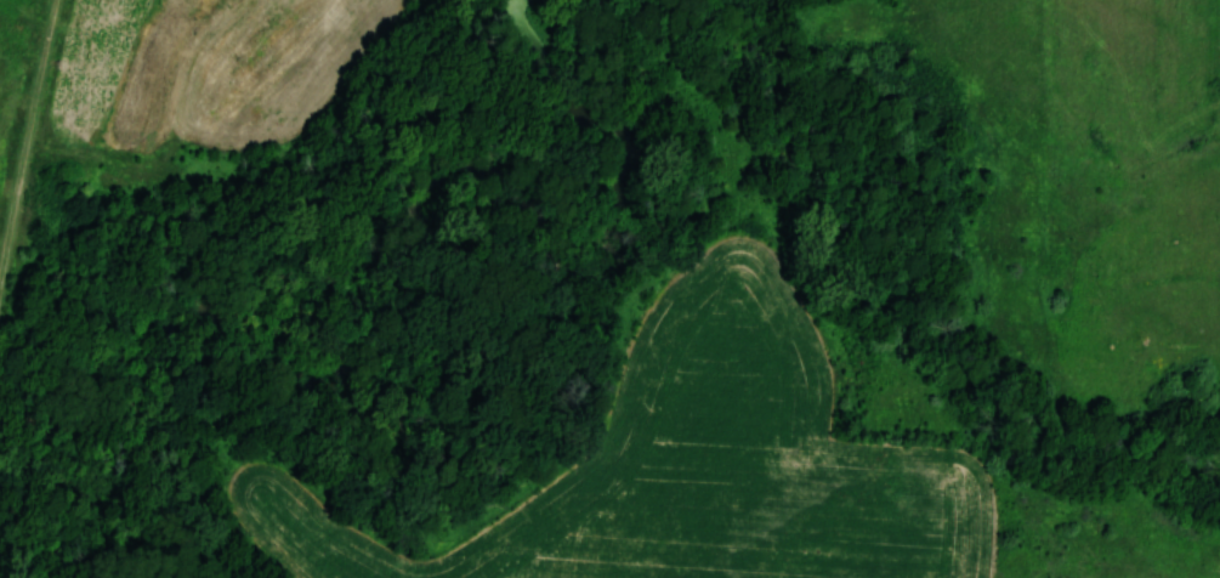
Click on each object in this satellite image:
road: (25, 147)

